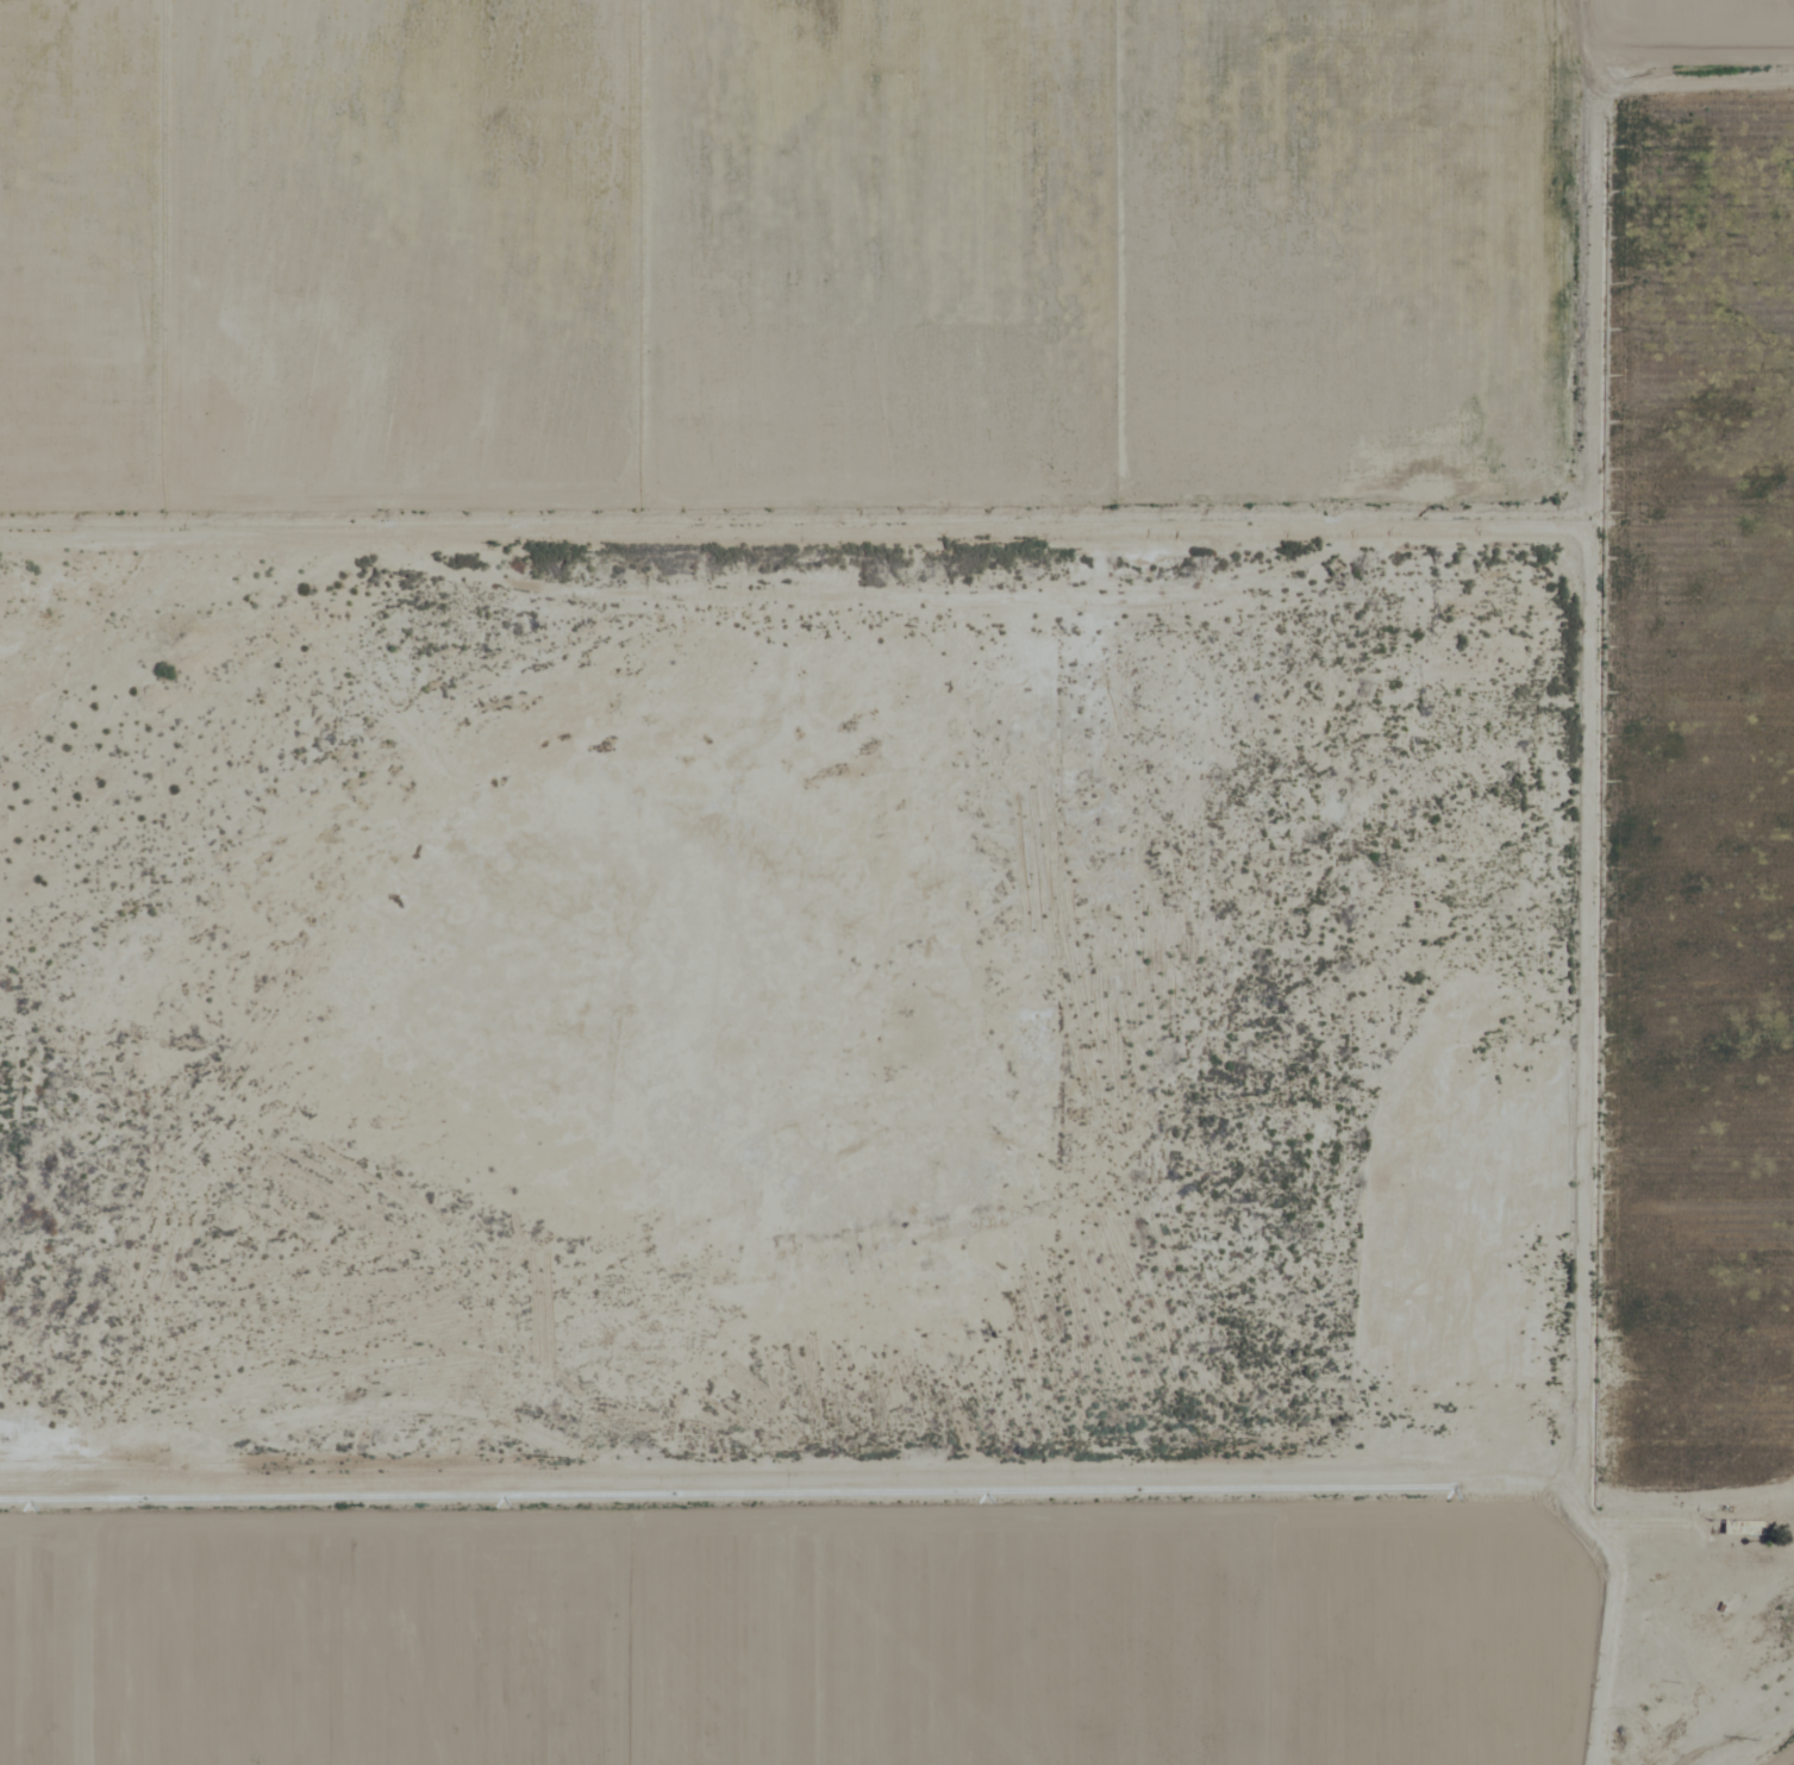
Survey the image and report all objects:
crop: (894, 880)

